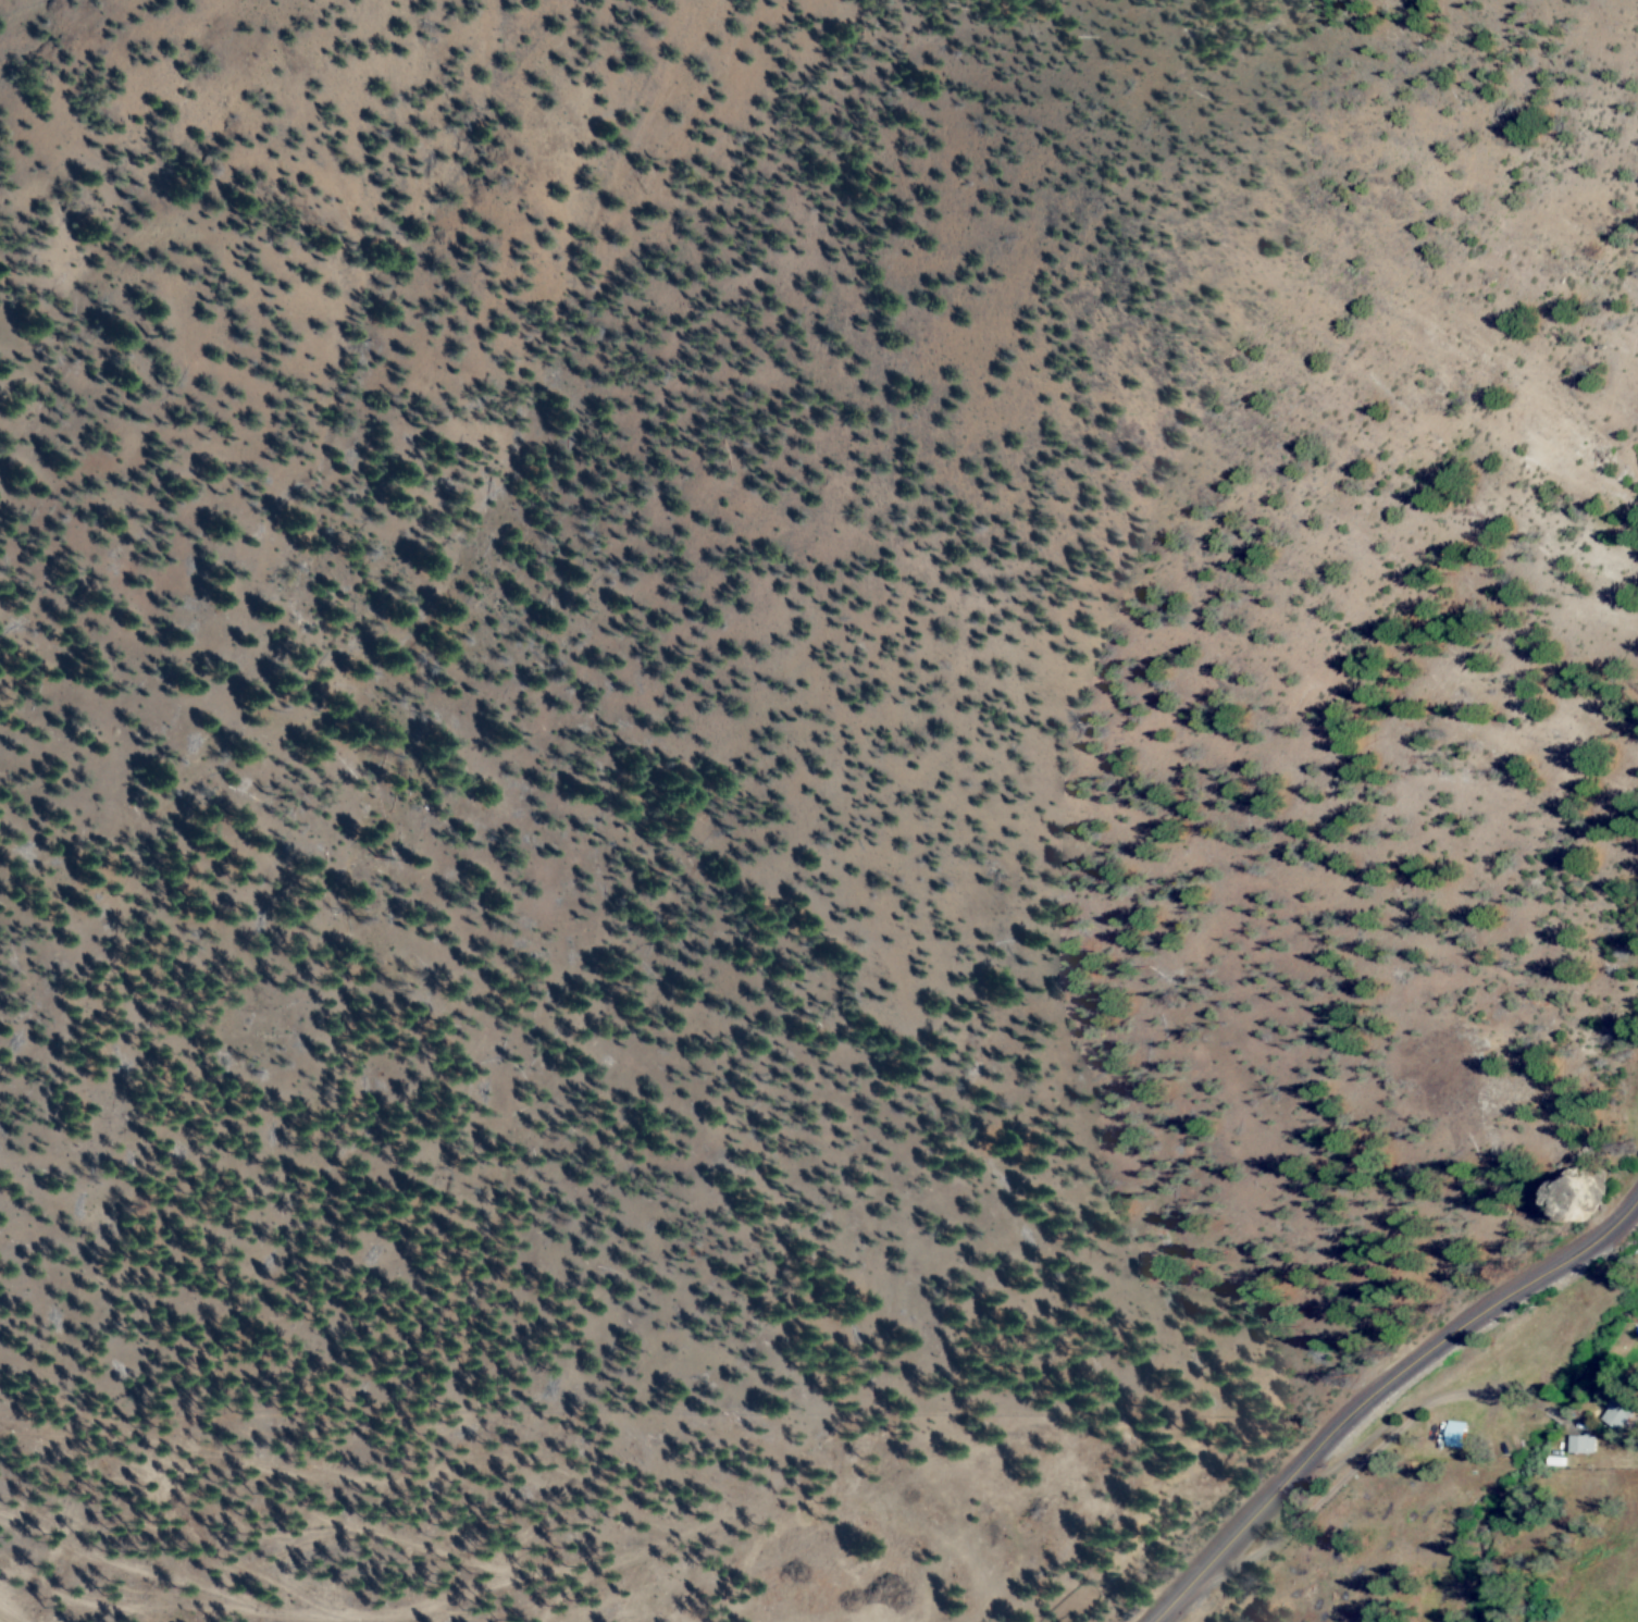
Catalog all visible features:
road: (1373, 1385)
building: (1624, 1413)
building: (1459, 1436)
building: (1584, 1445)
crop: (1417, 1462)
road: (0, 1621)

